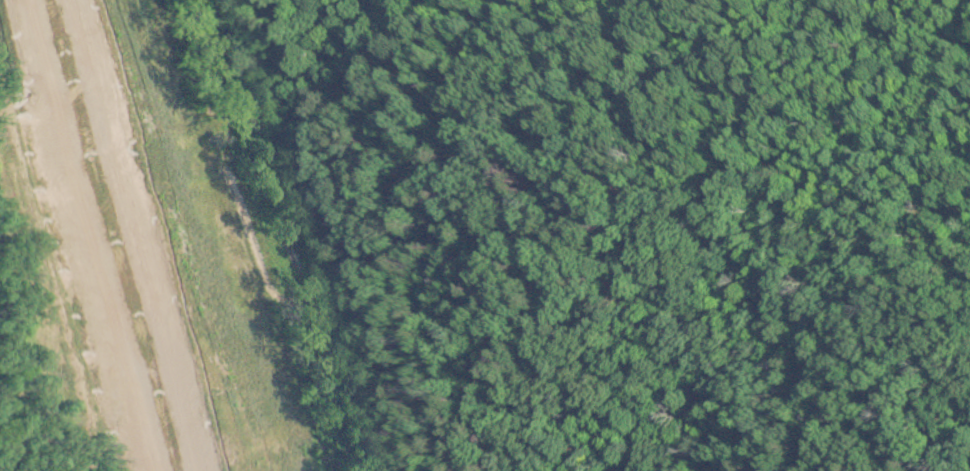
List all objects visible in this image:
road: (85, 235)
road: (138, 235)

